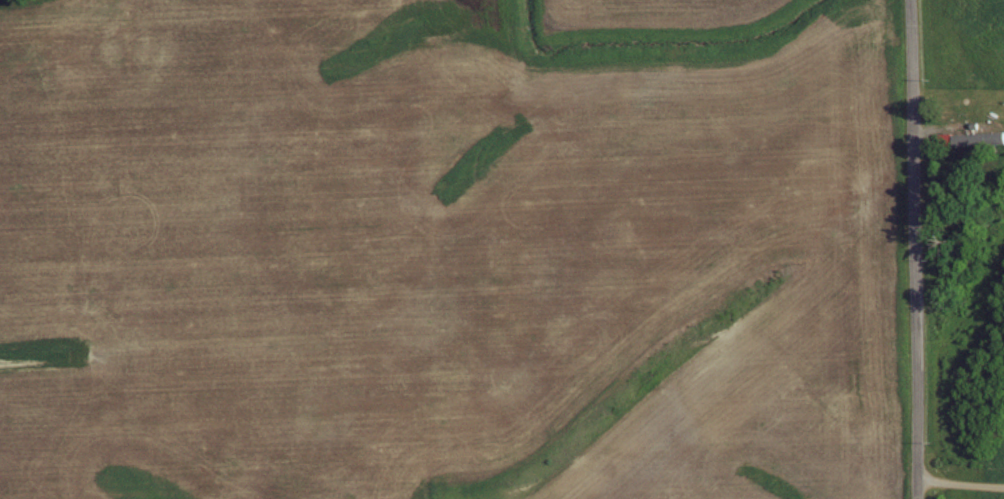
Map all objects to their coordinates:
building: (976, 136)
road: (958, 140)
road: (939, 150)
road: (915, 249)
road: (961, 484)

